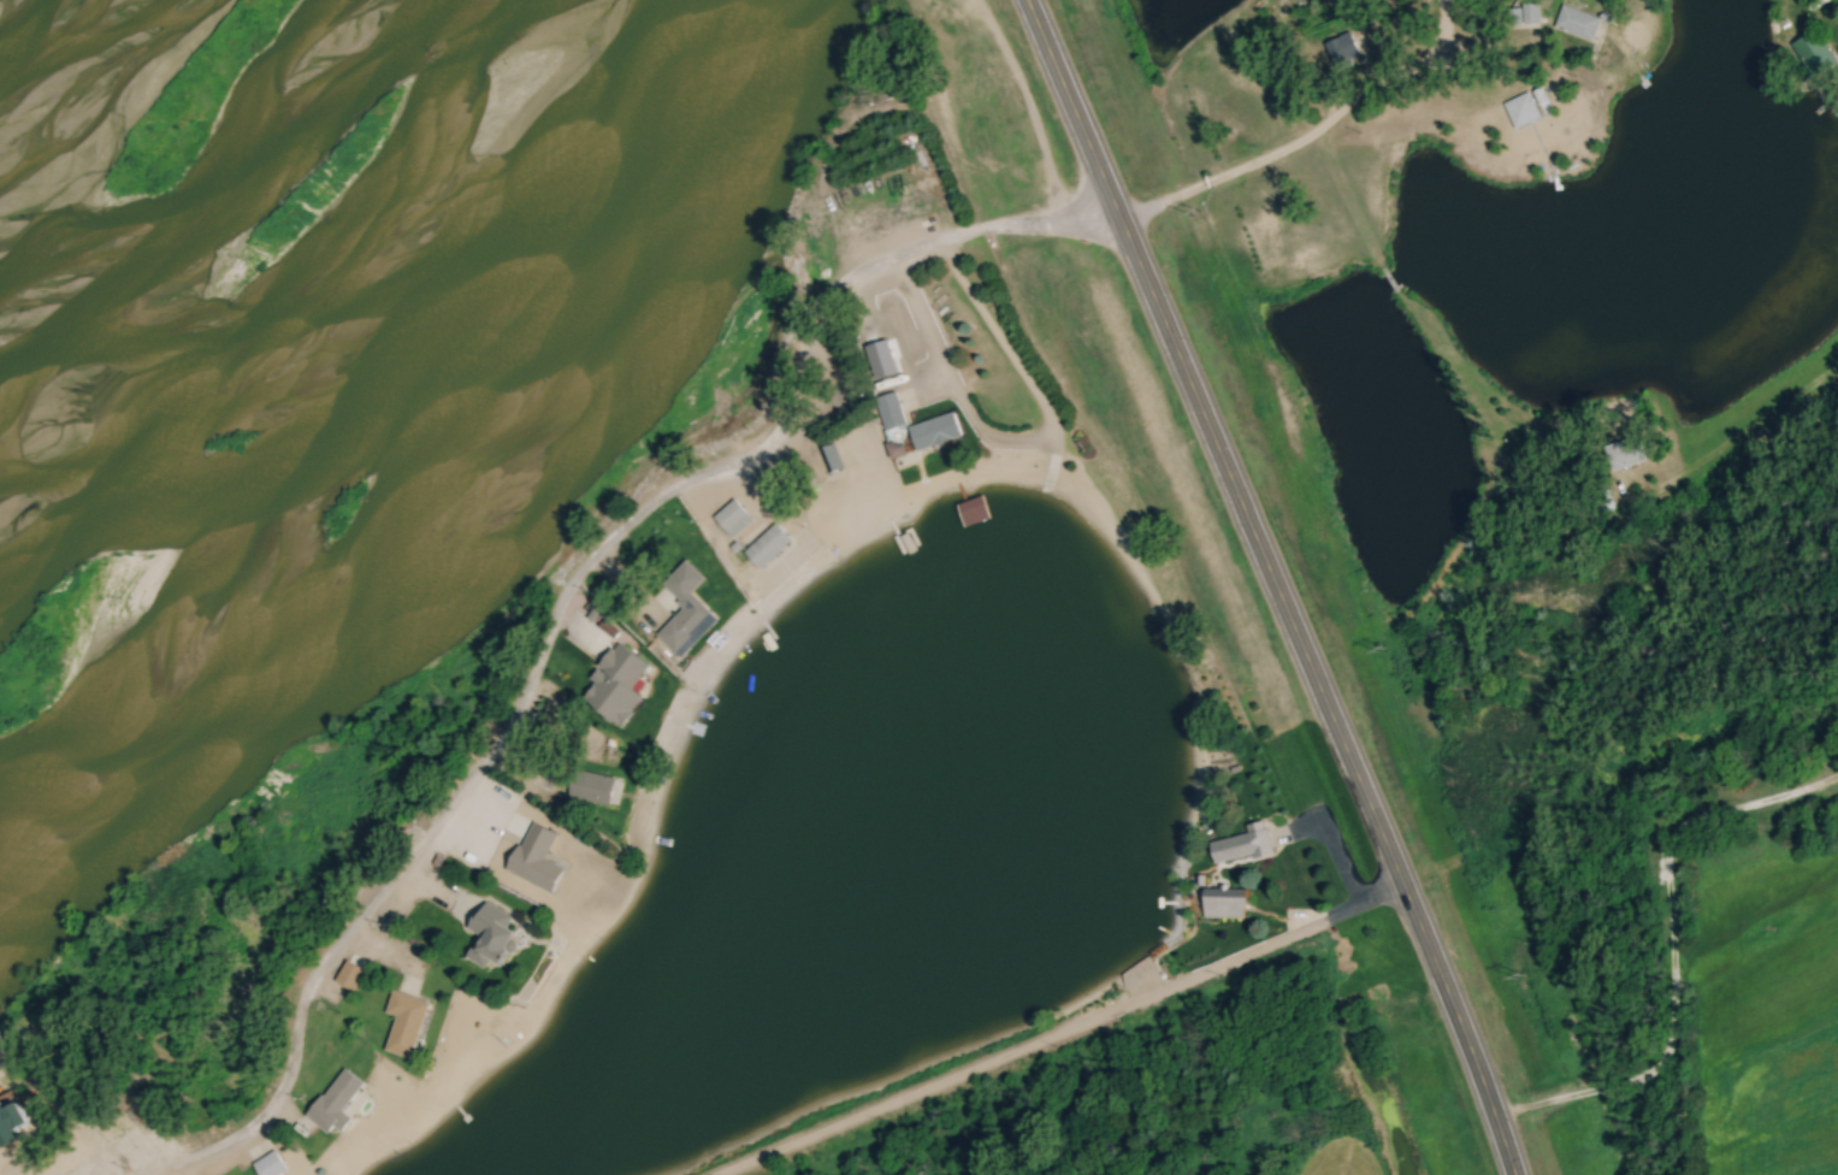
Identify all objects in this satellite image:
building: (1577, 22)
building: (1343, 49)
building: (1813, 54)
building: (1521, 110)
river: (53, 131)
road: (1306, 134)
road: (1116, 181)
road: (915, 384)
building: (892, 411)
building: (936, 430)
road: (1737, 432)
building: (1625, 451)
building: (828, 459)
building: (734, 518)
building: (769, 545)
road: (1271, 583)
road: (557, 602)
building: (693, 618)
building: (620, 683)
building: (596, 789)
building: (1259, 839)
building: (1227, 904)
building: (496, 935)
road: (1272, 943)
building: (408, 1023)
road: (935, 1088)
building: (339, 1102)
building: (272, 1164)

